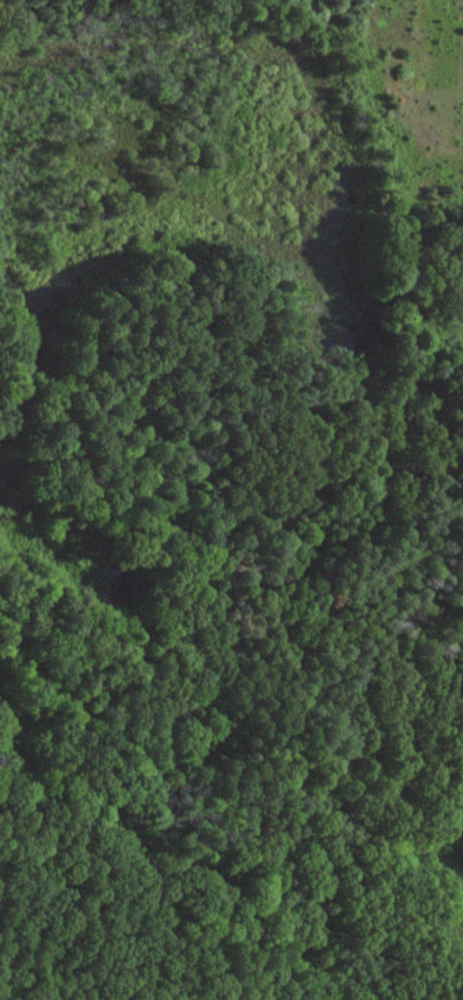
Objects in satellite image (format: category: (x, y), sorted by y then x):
road: (409, 527)

